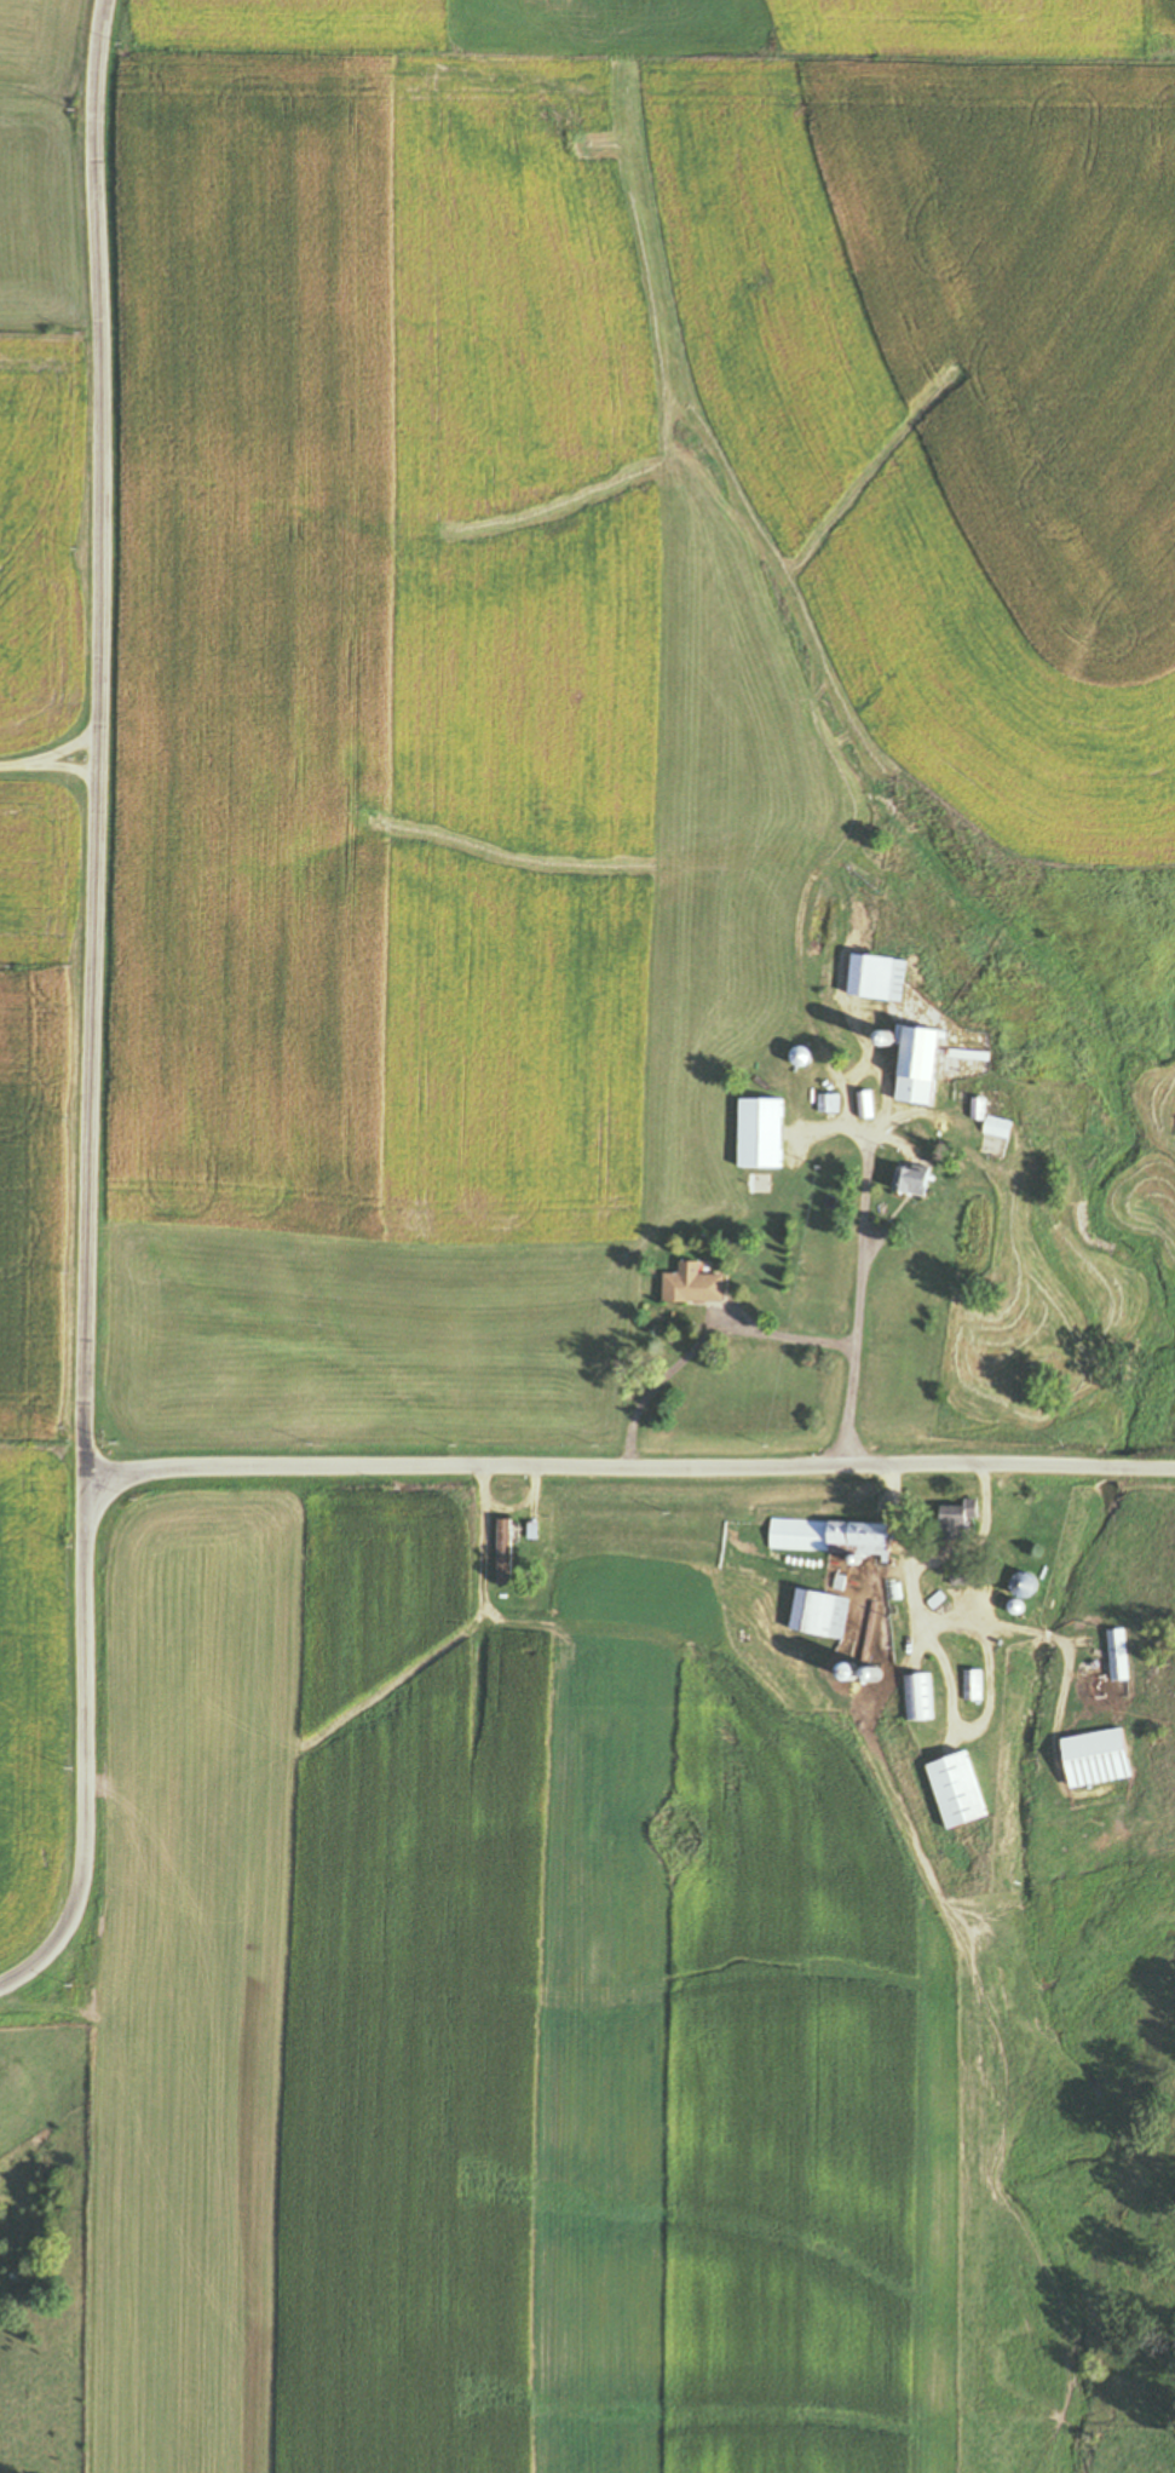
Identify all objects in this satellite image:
road: (94, 742)
road: (47, 764)
building: (880, 978)
building: (802, 1058)
building: (921, 1065)
building: (866, 1105)
building: (993, 1122)
building: (762, 1134)
building: (922, 1183)
building: (695, 1286)
road: (359, 1470)
building: (962, 1523)
building: (833, 1537)
building: (505, 1554)
road: (929, 1558)
building: (1027, 1588)
building: (822, 1615)
road: (960, 1621)
building: (1118, 1657)
building: (974, 1687)
building: (918, 1700)
building: (1100, 1759)
building: (962, 1793)

